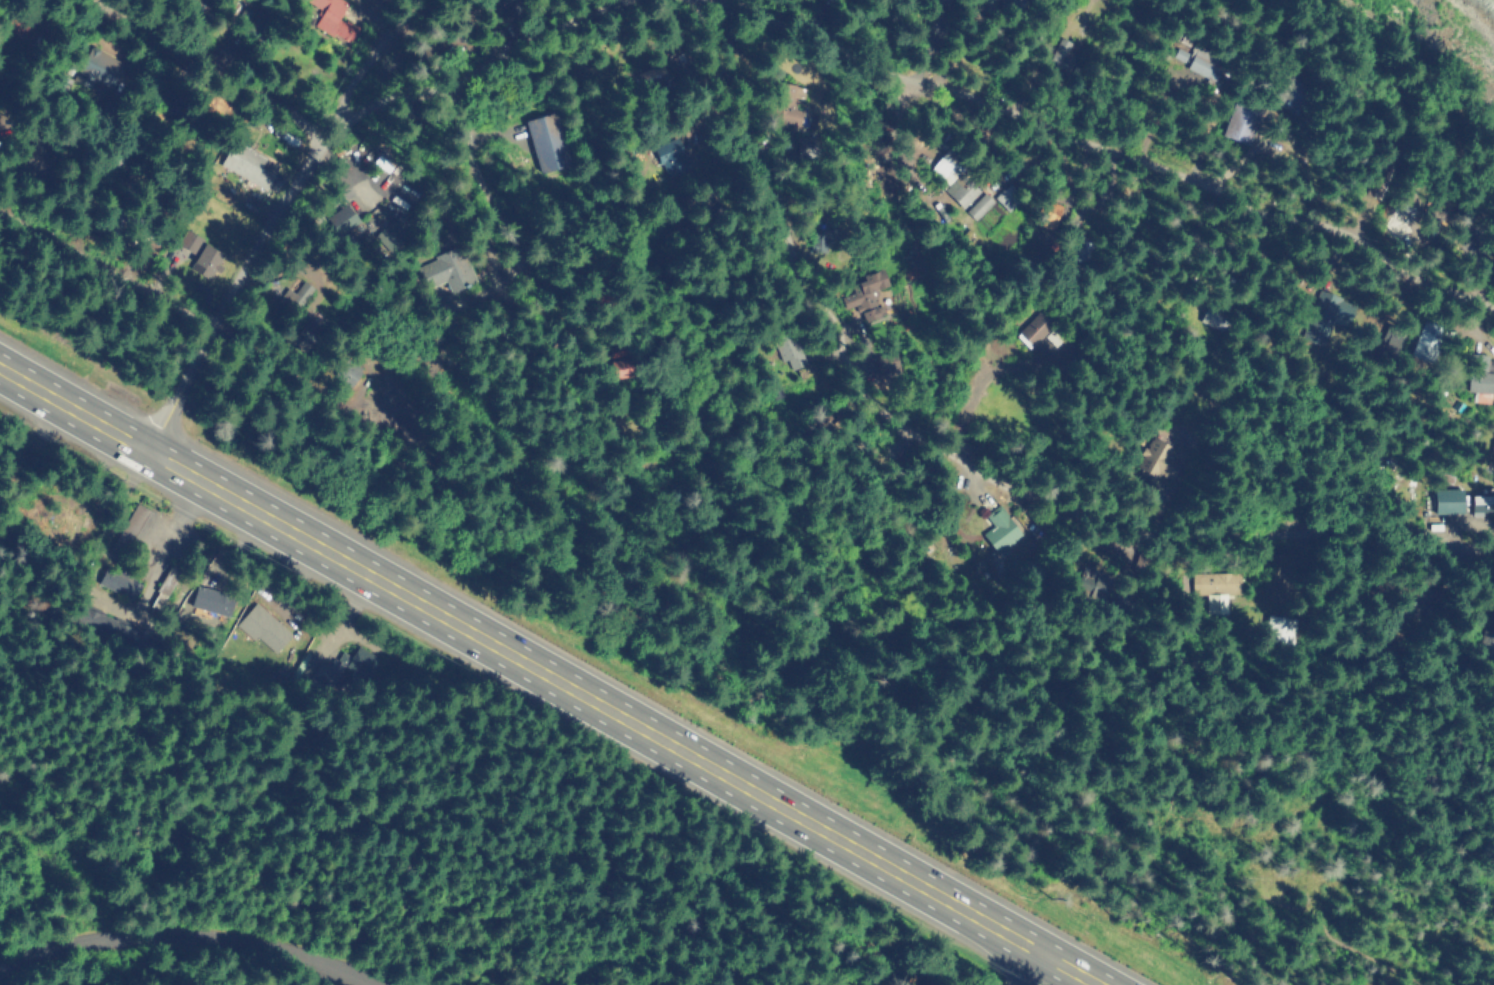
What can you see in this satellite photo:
building: (941, 1)
building: (1010, 1)
building: (192, 5)
building: (334, 16)
building: (247, 18)
building: (16, 20)
river: (1459, 22)
building: (1056, 50)
building: (438, 51)
building: (1180, 55)
building: (1205, 64)
road: (37, 65)
road: (366, 67)
building: (651, 67)
building: (97, 68)
road: (205, 68)
building: (1287, 89)
building: (787, 115)
building: (1239, 121)
building: (527, 125)
building: (177, 132)
building: (805, 141)
building: (547, 142)
road: (319, 149)
road: (1105, 149)
building: (669, 152)
building: (32, 161)
building: (249, 164)
building: (948, 166)
road: (479, 182)
building: (961, 188)
building: (1006, 197)
building: (978, 204)
building: (1047, 213)
building: (343, 219)
building: (1437, 226)
building: (393, 234)
building: (818, 236)
building: (188, 240)
building: (1077, 248)
building: (207, 258)
road: (107, 266)
building: (445, 269)
building: (868, 279)
building: (299, 293)
building: (870, 308)
building: (1325, 314)
building: (1212, 317)
building: (1031, 328)
building: (304, 333)
building: (1425, 341)
building: (1388, 345)
building: (790, 350)
building: (628, 358)
building: (887, 365)
building: (1480, 382)
building: (1151, 454)
road: (959, 462)
building: (1449, 501)
building: (1482, 501)
building: (135, 520)
building: (75, 526)
building: (1000, 526)
road: (533, 552)
road: (160, 558)
building: (120, 581)
building: (1092, 584)
building: (172, 586)
building: (1214, 589)
building: (1410, 599)
building: (212, 601)
building: (108, 624)
building: (263, 627)
building: (1279, 630)
building: (1486, 640)
building: (347, 665)
road: (548, 675)
road: (190, 940)
road: (1035, 970)
road: (1491, 980)

